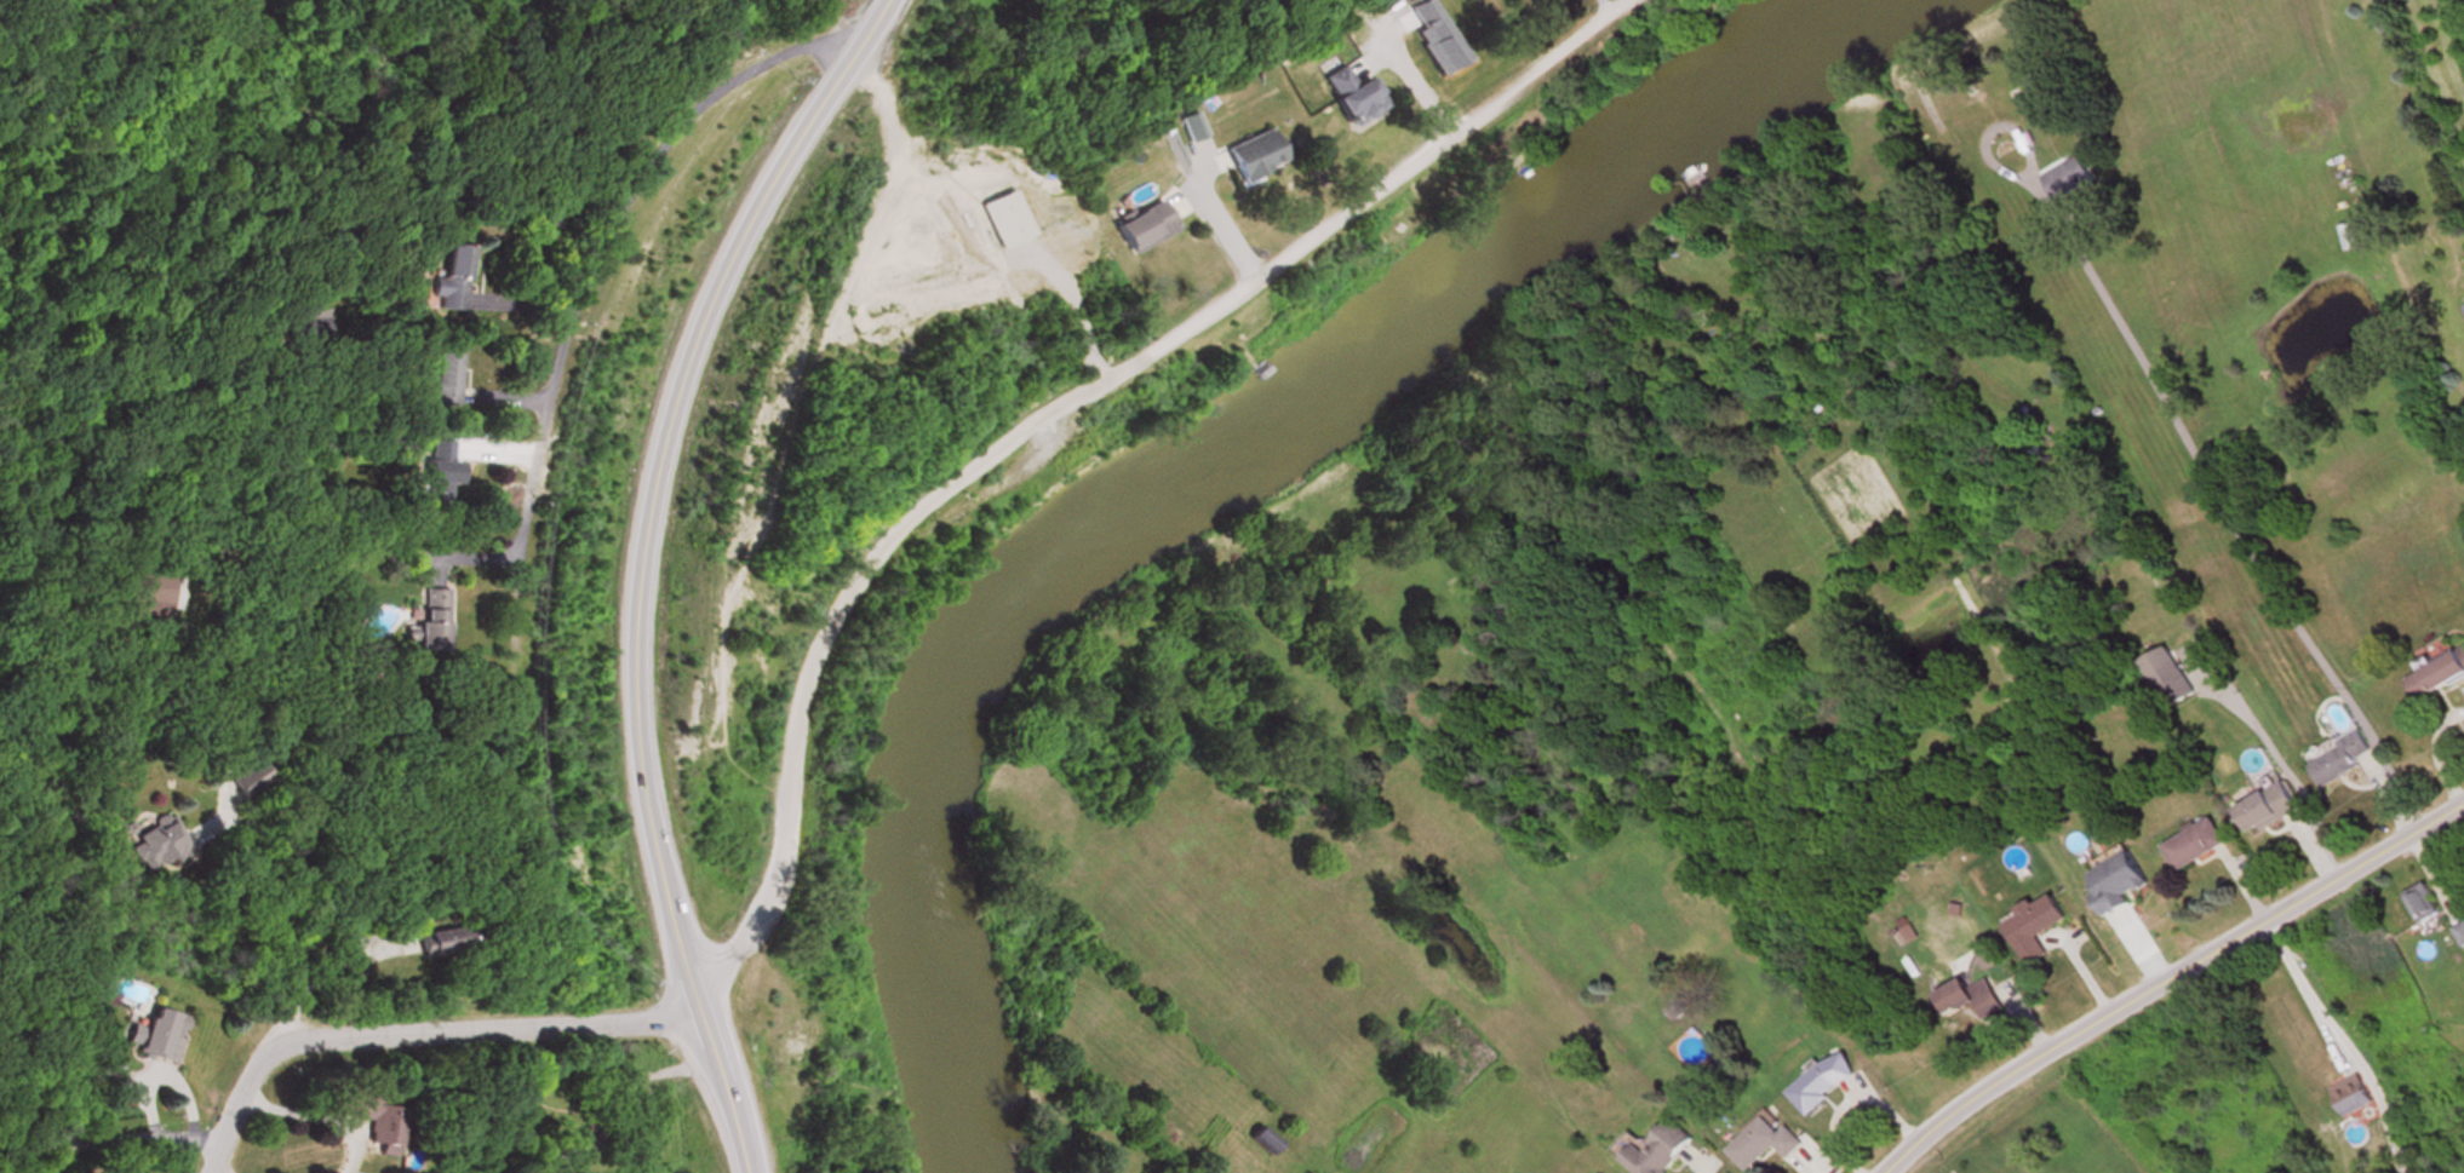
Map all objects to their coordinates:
building: (1351, 98)
building: (1187, 128)
building: (1251, 157)
building: (2068, 180)
building: (1141, 229)
road: (1227, 234)
road: (600, 241)
building: (453, 280)
building: (305, 327)
building: (447, 380)
road: (1054, 415)
river: (1144, 466)
road: (653, 471)
building: (442, 475)
road: (2225, 506)
building: (159, 583)
building: (434, 622)
building: (2437, 679)
building: (2173, 688)
building: (2340, 761)
building: (251, 781)
building: (2268, 811)
building: (2195, 846)
building: (160, 847)
building: (2115, 878)
building: (2423, 904)
road: (267, 916)
building: (2034, 928)
building: (2460, 935)
building: (434, 945)
road: (325, 973)
road: (2165, 977)
building: (1970, 1000)
road: (411, 1031)
road: (2355, 1037)
building: (156, 1039)
road: (166, 1077)
road: (715, 1079)
building: (1824, 1082)
building: (119, 1091)
building: (2354, 1100)
road: (315, 1120)
building: (365, 1121)
building: (1764, 1143)
road: (109, 1144)
building: (1661, 1150)
road: (1692, 1165)
road: (218, 1167)

